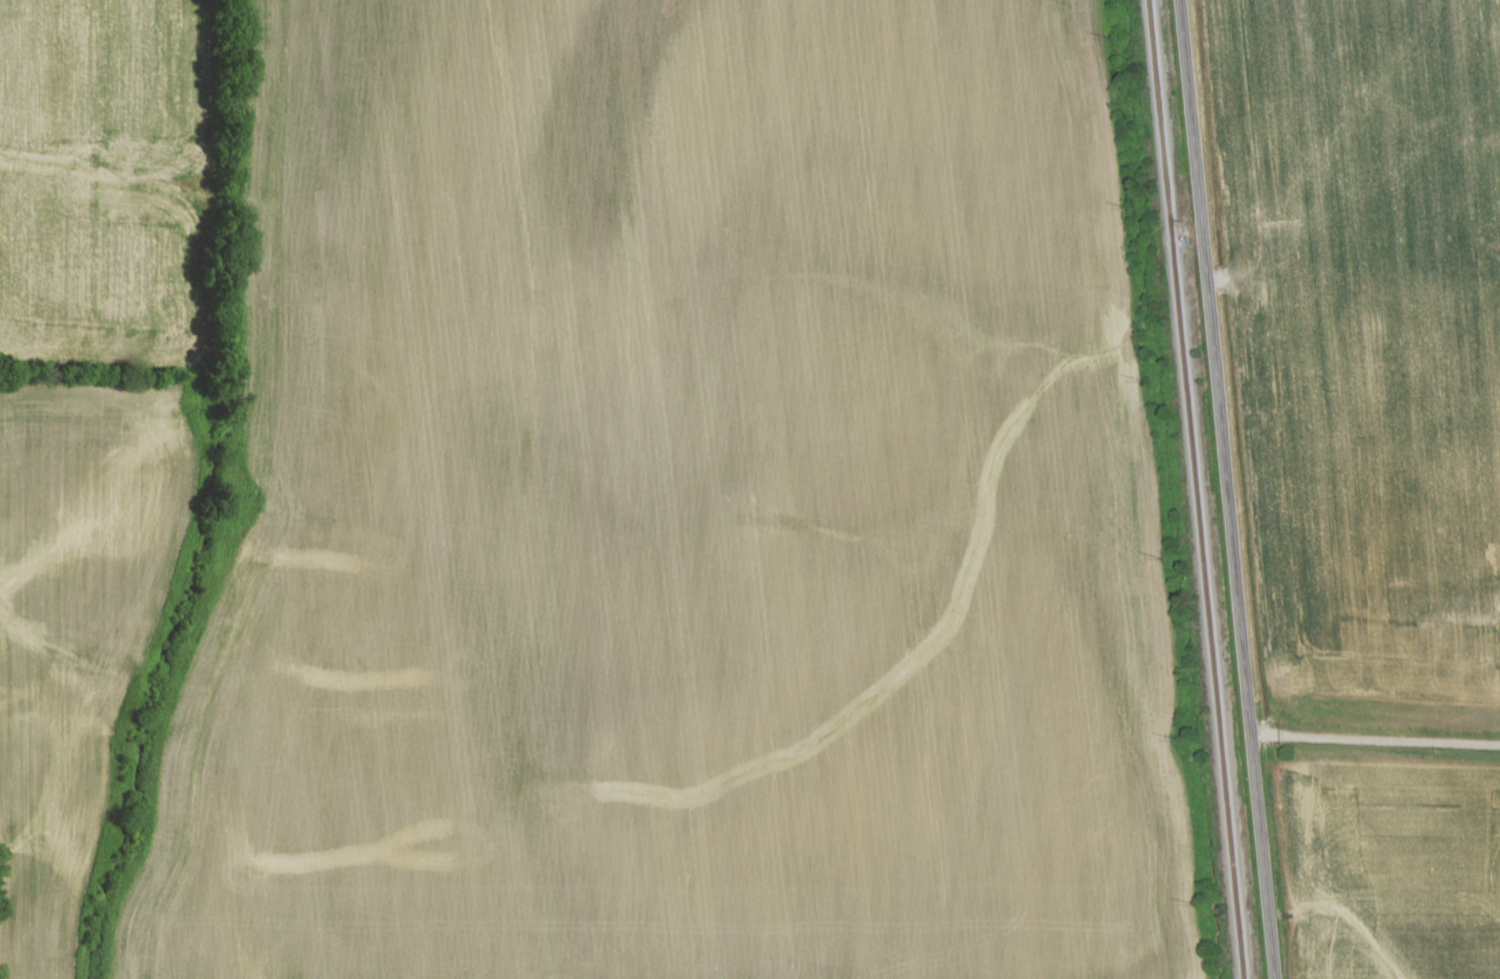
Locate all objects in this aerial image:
railway: (1196, 489)
road: (1232, 489)
road: (1378, 740)

